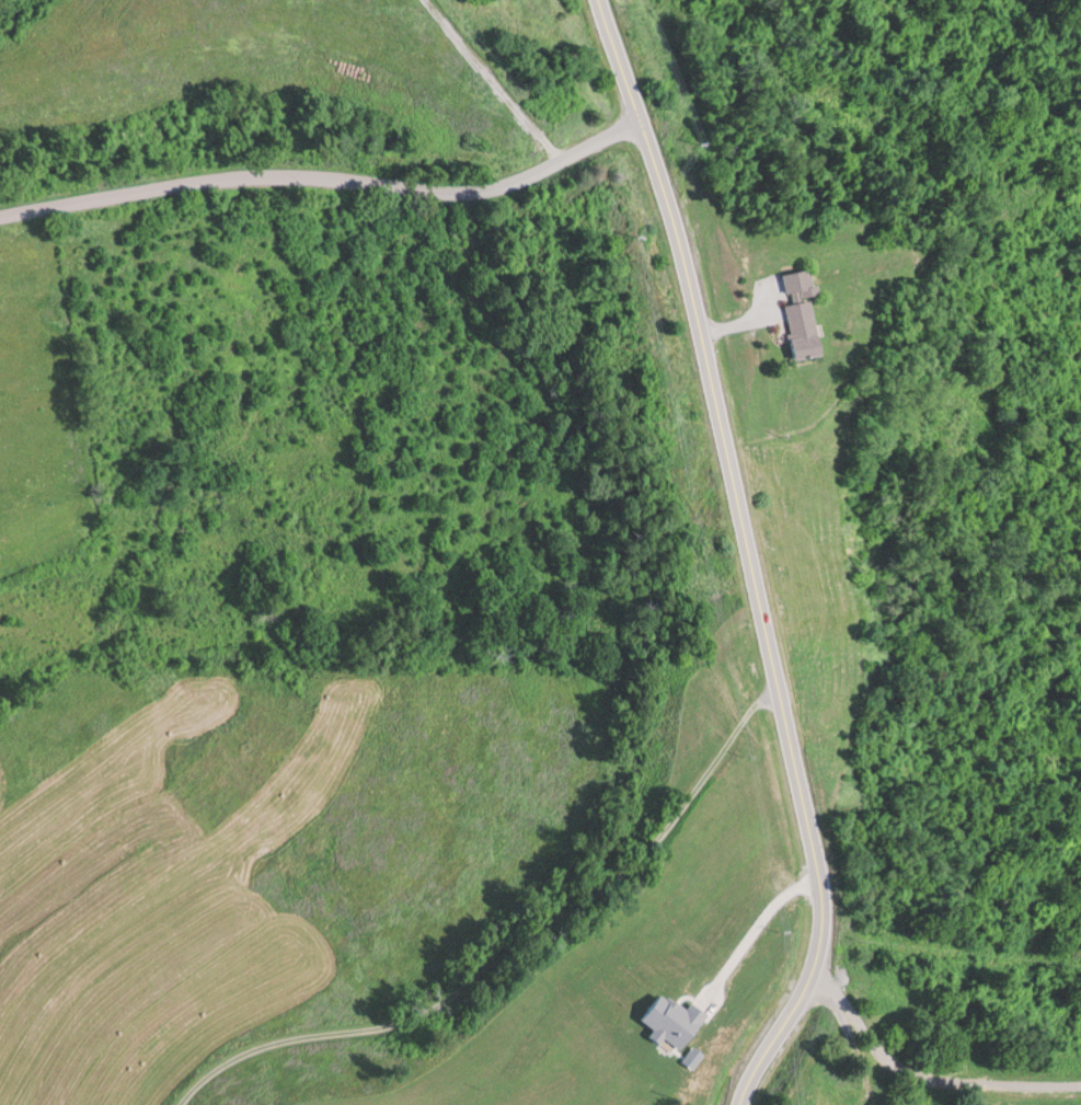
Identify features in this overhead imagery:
road: (326, 177)
building: (809, 311)
road: (747, 557)
building: (146, 1052)
road: (925, 1072)

